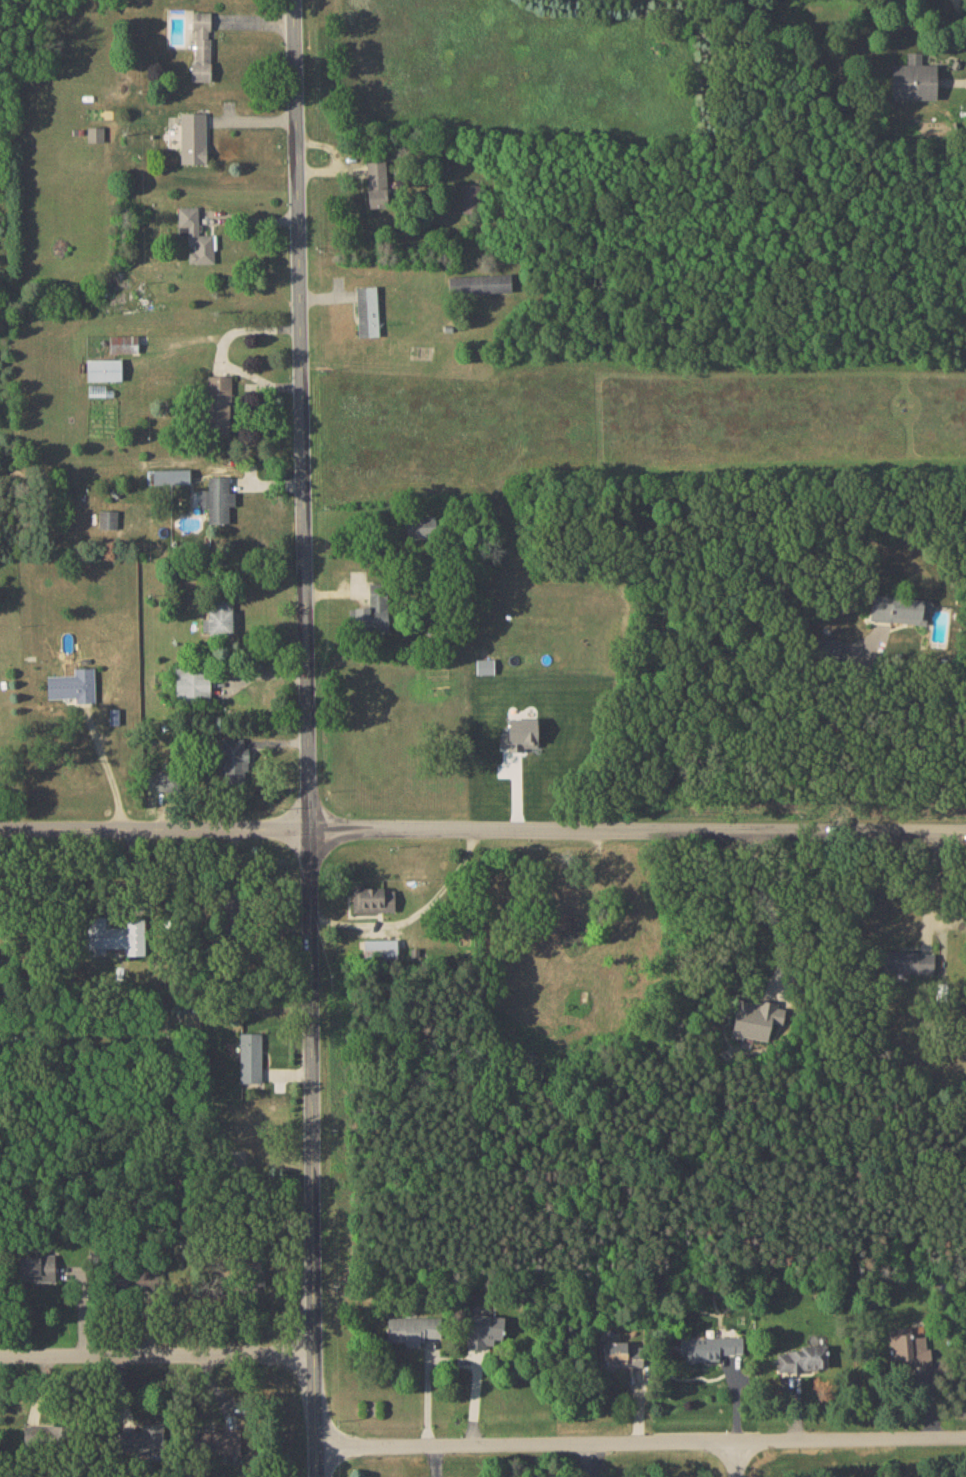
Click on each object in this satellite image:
road: (680, 13)
road: (959, 23)
building: (201, 46)
building: (913, 79)
road: (962, 82)
building: (94, 133)
building: (192, 137)
building: (376, 184)
building: (470, 195)
building: (195, 235)
building: (479, 283)
building: (367, 311)
building: (123, 343)
building: (103, 369)
building: (219, 404)
building: (170, 475)
building: (217, 499)
building: (107, 519)
building: (420, 527)
building: (898, 609)
building: (222, 615)
building: (370, 620)
building: (822, 645)
building: (191, 683)
building: (72, 685)
building: (520, 733)
road: (308, 738)
road: (844, 743)
building: (233, 760)
road: (107, 768)
building: (164, 780)
road: (483, 832)
road: (929, 885)
building: (372, 898)
road: (769, 911)
building: (115, 935)
building: (380, 948)
building: (907, 962)
building: (756, 1018)
building: (249, 1058)
building: (37, 1267)
building: (412, 1329)
building: (484, 1330)
building: (709, 1347)
building: (907, 1349)
building: (613, 1354)
road: (157, 1357)
building: (803, 1359)
road: (833, 1439)
building: (142, 1440)
building: (216, 1441)
road: (527, 1444)

